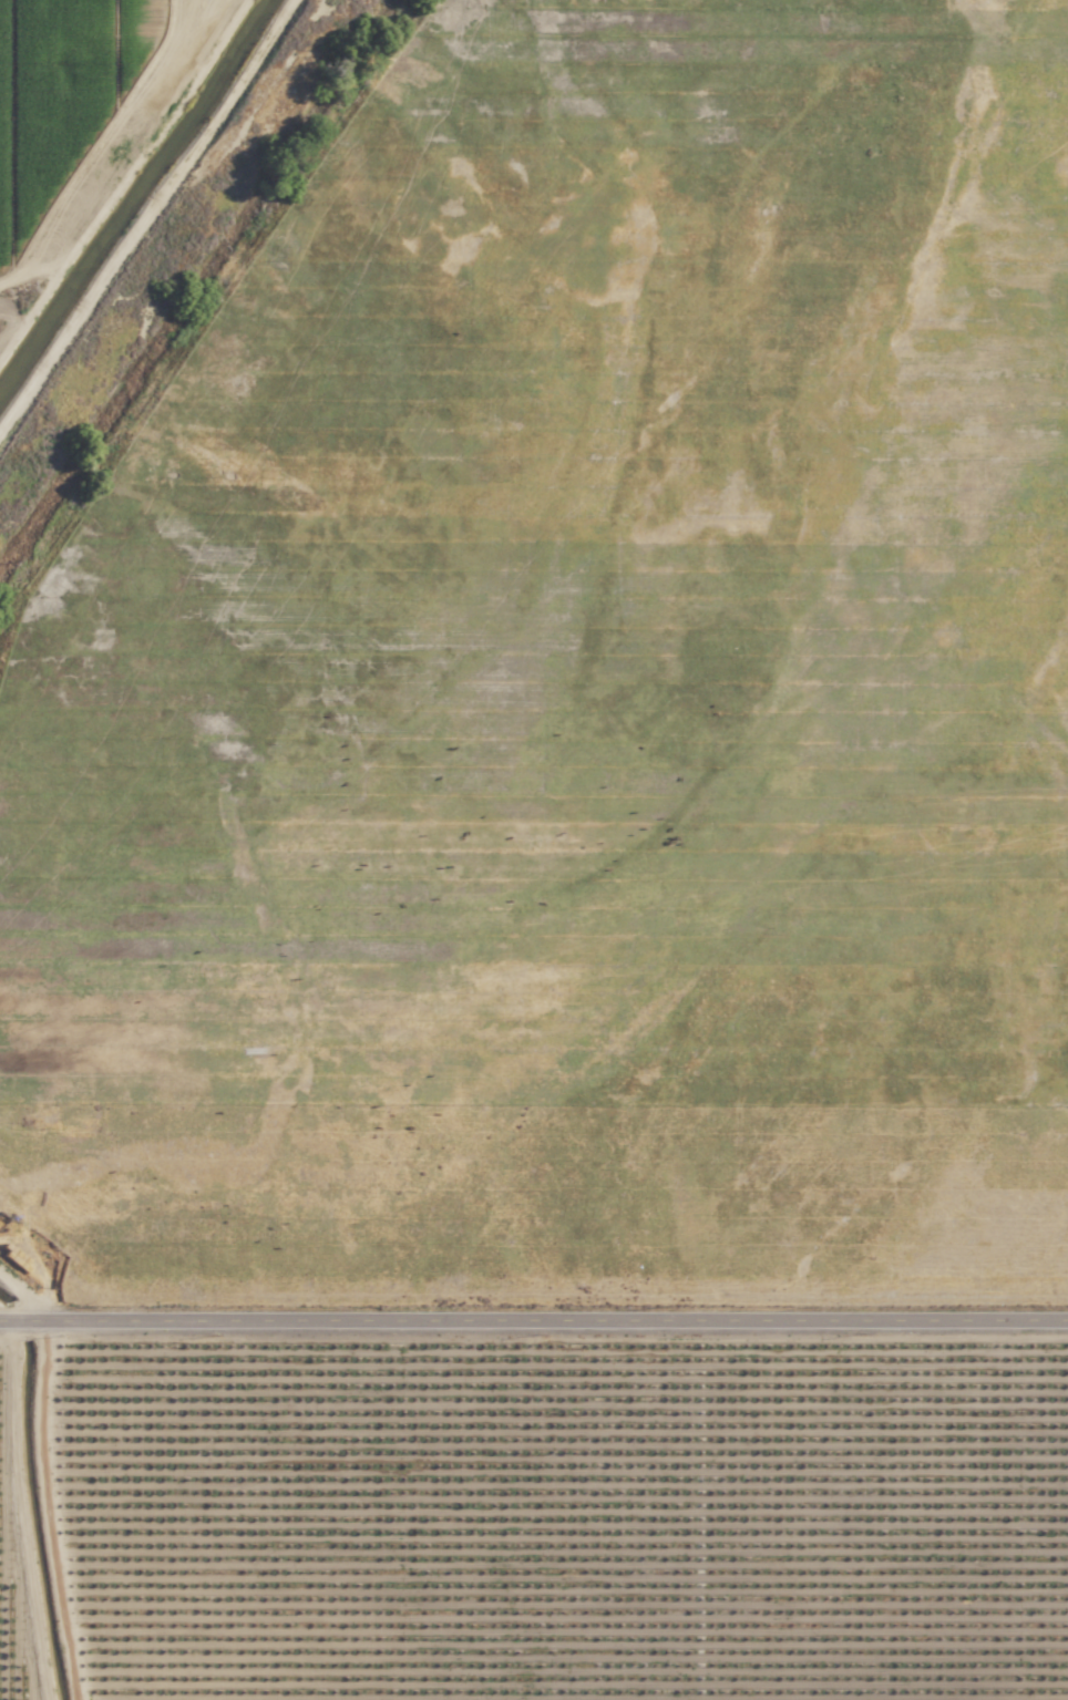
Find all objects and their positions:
road: (533, 1318)

